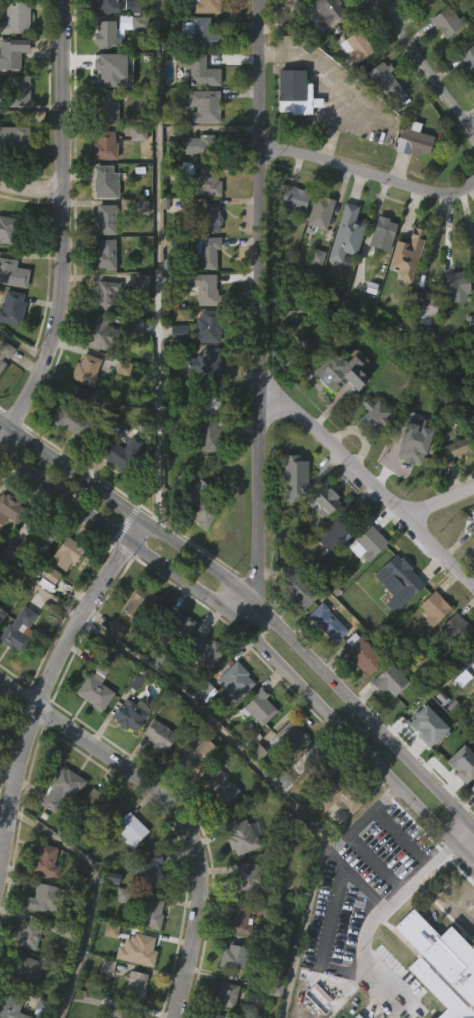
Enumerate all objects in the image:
building: (128, 0)
building: (167, 0)
building: (423, 2)
building: (106, 5)
building: (205, 5)
building: (333, 8)
building: (404, 8)
building: (15, 17)
building: (294, 19)
building: (447, 21)
building: (423, 29)
building: (200, 32)
building: (106, 34)
building: (325, 39)
building: (129, 45)
building: (356, 46)
building: (12, 53)
building: (468, 57)
building: (132, 58)
building: (443, 62)
road: (425, 67)
building: (196, 69)
building: (105, 72)
road: (326, 78)
building: (383, 79)
building: (353, 87)
building: (19, 90)
building: (294, 91)
building: (467, 98)
building: (205, 105)
building: (108, 107)
building: (385, 123)
building: (291, 126)
road: (327, 131)
building: (15, 136)
building: (416, 140)
building: (104, 145)
building: (193, 145)
building: (135, 173)
road: (366, 173)
building: (13, 175)
building: (411, 180)
building: (105, 181)
building: (206, 181)
road: (31, 191)
building: (293, 197)
road: (259, 200)
building: (320, 211)
building: (212, 217)
building: (105, 219)
road: (64, 222)
building: (7, 228)
building: (347, 233)
building: (383, 233)
road: (432, 236)
building: (292, 238)
building: (206, 251)
building: (317, 251)
building: (404, 252)
building: (105, 254)
road: (157, 266)
building: (344, 272)
building: (380, 273)
building: (12, 274)
building: (457, 284)
building: (202, 287)
building: (404, 294)
building: (105, 296)
building: (313, 296)
building: (425, 305)
building: (11, 308)
building: (139, 322)
building: (454, 322)
building: (209, 327)
building: (473, 330)
building: (102, 334)
road: (22, 344)
building: (423, 344)
building: (6, 353)
building: (204, 363)
building: (131, 366)
building: (85, 369)
building: (344, 370)
building: (176, 371)
building: (3, 391)
building: (204, 401)
building: (84, 408)
building: (338, 412)
building: (375, 417)
building: (71, 418)
building: (206, 435)
building: (473, 436)
building: (456, 449)
building: (371, 452)
building: (122, 454)
building: (412, 459)
building: (66, 460)
building: (470, 460)
building: (205, 475)
building: (297, 476)
road: (373, 483)
building: (451, 489)
building: (118, 491)
building: (326, 501)
road: (439, 501)
building: (197, 505)
building: (9, 507)
road: (259, 512)
building: (292, 516)
building: (473, 521)
building: (44, 529)
building: (335, 533)
building: (473, 536)
building: (321, 540)
building: (371, 543)
building: (195, 547)
building: (9, 548)
building: (67, 554)
building: (472, 562)
building: (331, 570)
building: (39, 572)
building: (472, 577)
building: (398, 581)
building: (367, 582)
building: (298, 585)
road: (38, 588)
building: (64, 592)
building: (140, 602)
building: (433, 605)
road: (255, 606)
road: (81, 609)
building: (2, 614)
building: (46, 618)
building: (395, 620)
building: (328, 623)
building: (175, 625)
building: (294, 627)
building: (456, 628)
building: (17, 630)
building: (139, 642)
road: (254, 643)
building: (469, 645)
building: (431, 647)
building: (1, 652)
building: (203, 652)
building: (362, 654)
building: (325, 661)
building: (177, 666)
building: (453, 667)
building: (15, 669)
building: (114, 669)
building: (239, 676)
building: (389, 680)
building: (96, 682)
building: (201, 691)
road: (17, 692)
building: (361, 692)
building: (460, 701)
building: (259, 705)
building: (96, 711)
building: (130, 713)
building: (386, 719)
building: (231, 721)
building: (471, 722)
building: (91, 732)
building: (158, 734)
building: (290, 738)
building: (256, 746)
building: (128, 753)
building: (195, 758)
building: (318, 764)
building: (424, 764)
building: (156, 774)
building: (289, 776)
road: (14, 781)
road: (272, 782)
building: (61, 787)
building: (222, 787)
building: (472, 787)
building: (339, 792)
building: (194, 796)
road: (5, 801)
building: (460, 802)
building: (318, 803)
building: (98, 804)
road: (369, 810)
building: (220, 824)
building: (471, 827)
building: (58, 828)
building: (130, 828)
road: (183, 828)
building: (333, 834)
building: (241, 836)
road: (462, 838)
building: (95, 842)
building: (45, 860)
building: (128, 867)
building: (146, 868)
building: (245, 877)
road: (396, 888)
road: (91, 893)
building: (45, 898)
building: (150, 913)
building: (110, 916)
building: (238, 917)
road: (330, 923)
road: (366, 928)
building: (27, 933)
building: (119, 933)
building: (40, 937)
building: (142, 949)
building: (233, 955)
building: (441, 964)
building: (22, 970)
building: (135, 985)
building: (225, 993)
building: (8, 1004)
building: (104, 1005)
building: (23, 1006)
building: (120, 1013)
building: (134, 1014)
building: (217, 1015)

